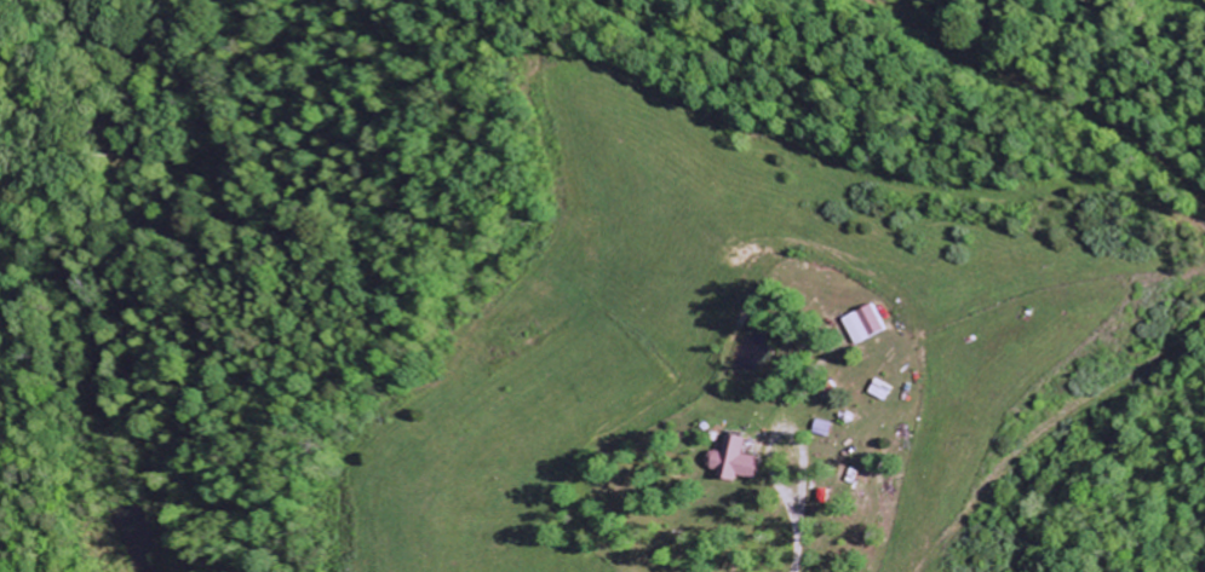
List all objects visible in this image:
building: (861, 325)
building: (728, 462)

